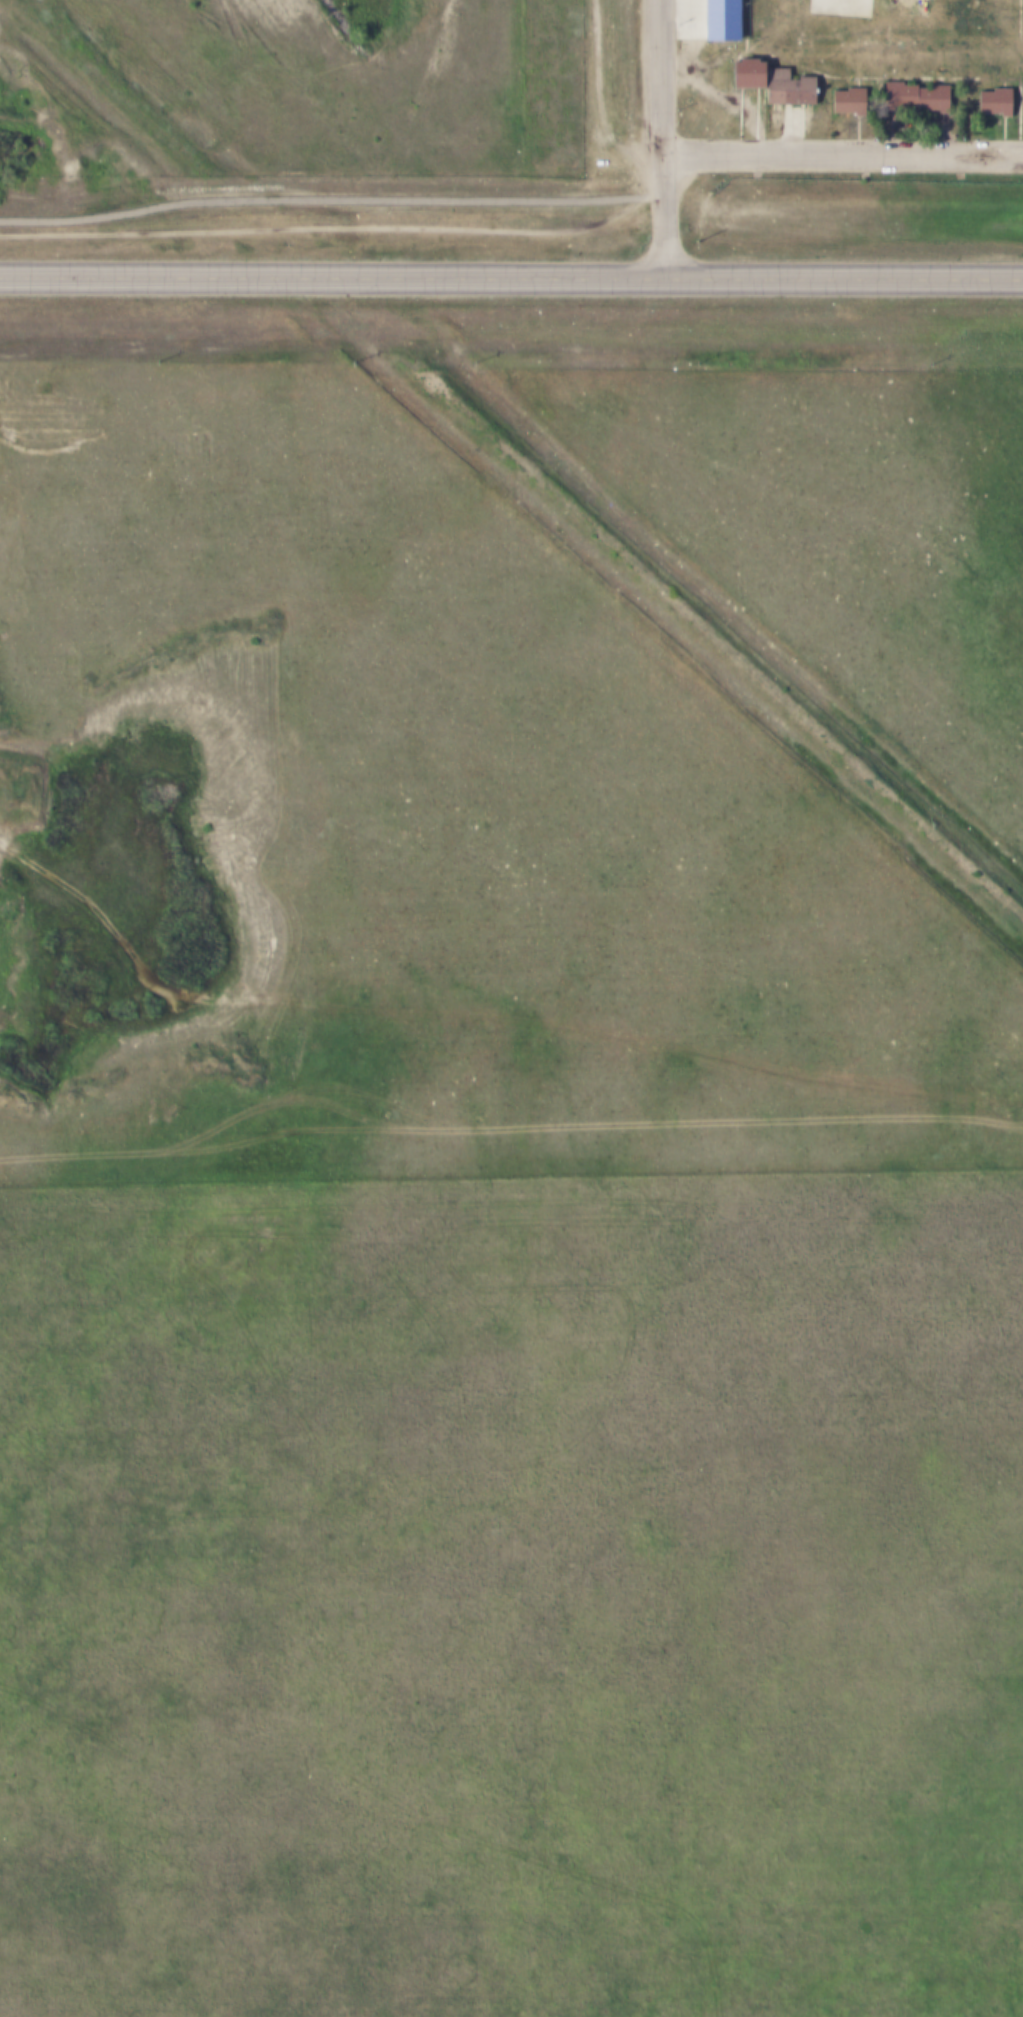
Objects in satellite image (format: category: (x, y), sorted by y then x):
park: (834, 7)
building: (715, 20)
building: (741, 69)
building: (782, 85)
building: (909, 94)
building: (843, 99)
building: (989, 99)
road: (663, 136)
road: (843, 153)
road: (332, 201)
road: (511, 273)
road: (486, 1010)

